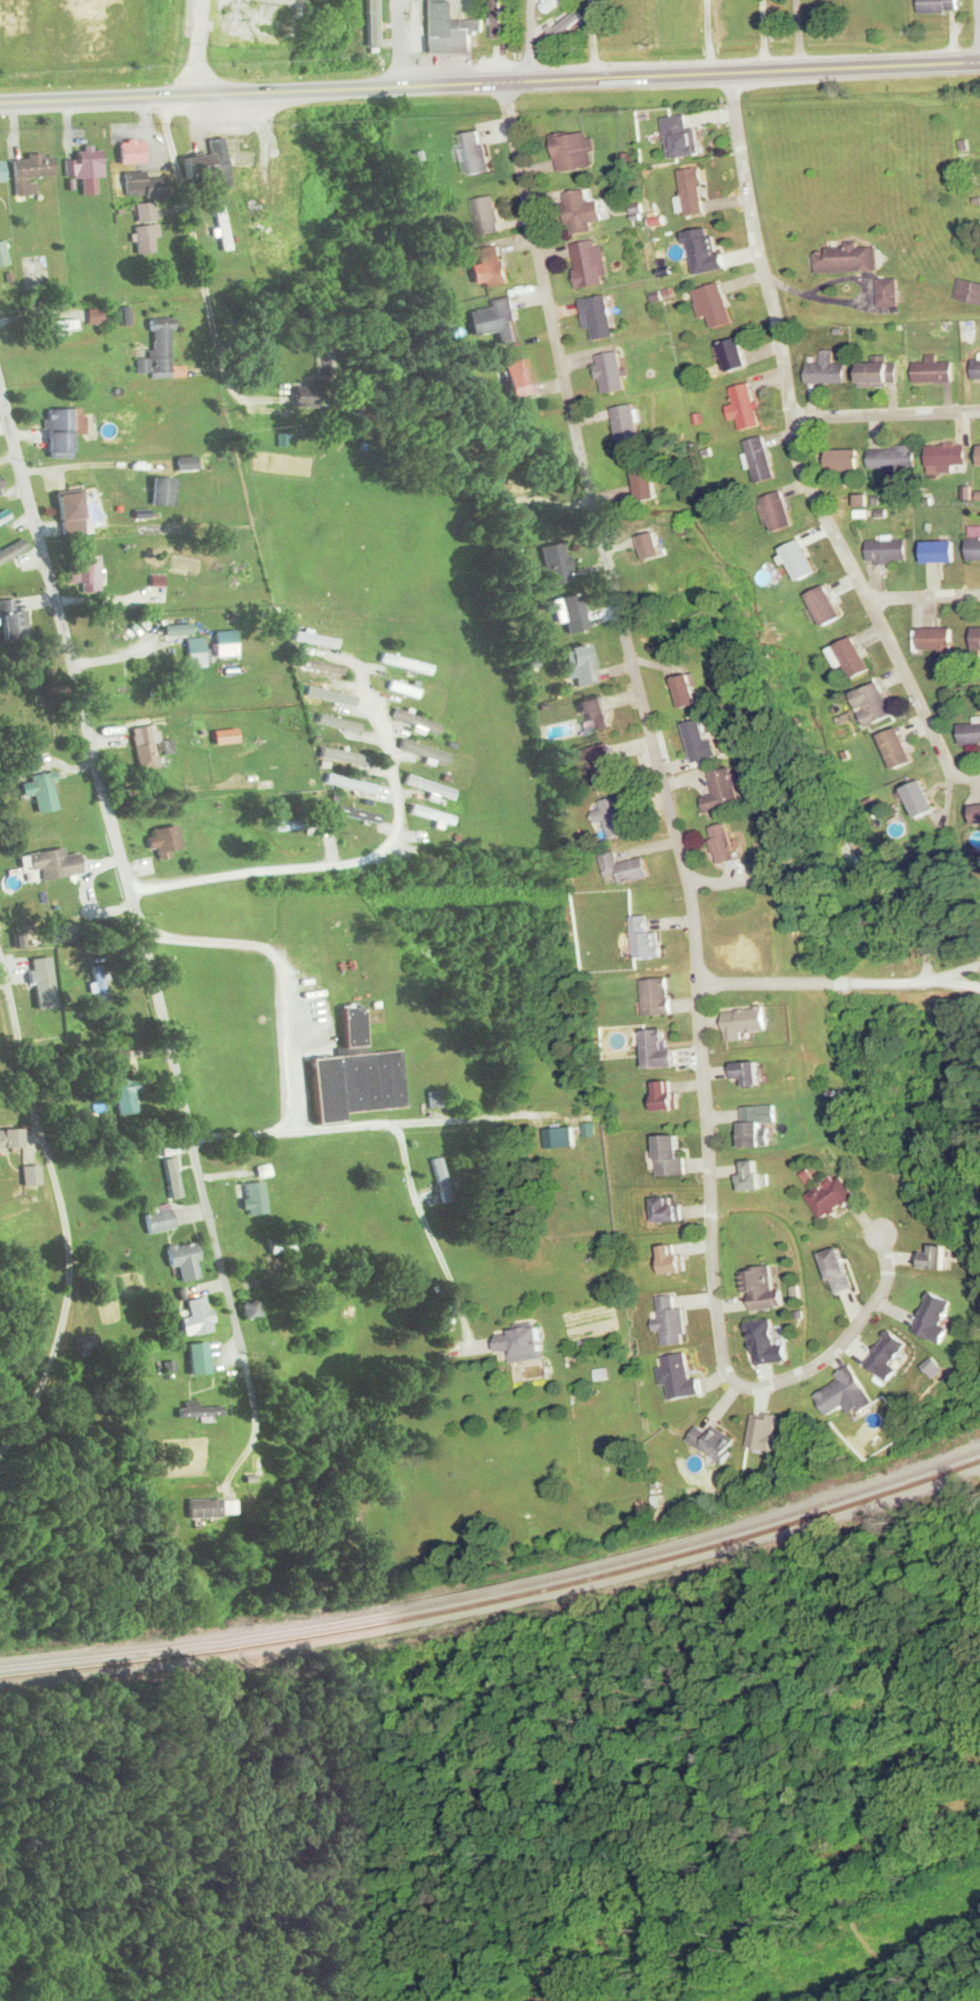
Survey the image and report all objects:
building: (551, 4)
building: (938, 6)
building: (496, 18)
building: (370, 21)
building: (562, 29)
building: (448, 31)
road: (974, 31)
road: (531, 39)
road: (402, 42)
road: (691, 74)
road: (201, 95)
building: (681, 138)
building: (131, 151)
building: (573, 151)
building: (475, 153)
building: (84, 163)
building: (206, 163)
building: (32, 166)
building: (1, 172)
building: (288, 177)
building: (141, 185)
building: (693, 191)
building: (581, 211)
building: (143, 212)
building: (486, 216)
building: (251, 217)
building: (220, 228)
road: (193, 234)
building: (145, 238)
building: (703, 249)
building: (3, 254)
building: (847, 259)
building: (588, 264)
building: (492, 266)
building: (968, 291)
building: (888, 293)
building: (714, 306)
building: (597, 318)
building: (497, 320)
building: (53, 325)
road: (47, 332)
building: (158, 351)
building: (734, 356)
building: (826, 370)
building: (933, 370)
building: (976, 370)
building: (611, 373)
building: (879, 374)
building: (518, 376)
building: (304, 395)
building: (745, 407)
road: (886, 413)
building: (627, 426)
building: (61, 431)
road: (798, 451)
building: (979, 454)
building: (946, 455)
building: (893, 457)
building: (761, 459)
building: (844, 460)
building: (189, 463)
building: (492, 464)
building: (645, 481)
building: (1, 485)
building: (162, 491)
building: (780, 511)
building: (70, 514)
building: (5, 515)
building: (651, 545)
building: (975, 548)
building: (11, 549)
building: (888, 549)
building: (940, 550)
building: (801, 558)
building: (555, 562)
building: (83, 571)
road: (924, 597)
building: (826, 604)
building: (570, 612)
building: (12, 621)
building: (176, 628)
building: (316, 638)
building: (938, 638)
building: (977, 638)
building: (222, 642)
building: (194, 651)
building: (854, 657)
building: (404, 663)
building: (582, 664)
building: (320, 665)
building: (402, 689)
building: (686, 690)
building: (324, 696)
building: (877, 701)
building: (595, 713)
building: (415, 720)
building: (971, 732)
building: (700, 740)
building: (147, 742)
building: (898, 747)
building: (423, 750)
building: (344, 757)
building: (27, 763)
building: (604, 767)
building: (375, 769)
building: (287, 772)
building: (425, 785)
building: (349, 788)
building: (726, 789)
building: (40, 790)
building: (922, 798)
building: (357, 813)
building: (977, 813)
building: (431, 814)
building: (615, 815)
building: (297, 824)
building: (163, 840)
building: (723, 842)
road: (678, 848)
building: (53, 863)
road: (335, 867)
building: (625, 867)
road: (125, 877)
building: (647, 938)
road: (839, 982)
building: (657, 996)
road: (287, 1021)
building: (745, 1022)
building: (661, 1049)
road: (23, 1068)
building: (748, 1072)
building: (356, 1074)
building: (124, 1089)
building: (667, 1096)
building: (436, 1098)
road: (419, 1122)
building: (753, 1128)
building: (560, 1137)
building: (10, 1138)
building: (670, 1156)
building: (29, 1175)
building: (750, 1176)
building: (439, 1180)
building: (833, 1196)
building: (253, 1198)
building: (665, 1210)
building: (157, 1220)
building: (278, 1244)
building: (935, 1257)
building: (183, 1260)
building: (838, 1270)
building: (760, 1287)
building: (195, 1316)
building: (935, 1317)
building: (672, 1321)
building: (765, 1343)
building: (524, 1345)
building: (886, 1355)
building: (197, 1358)
building: (680, 1377)
building: (842, 1391)
building: (196, 1410)
building: (713, 1442)
building: (202, 1507)
building: (228, 1507)
railway: (497, 1589)
railway: (497, 1598)
river: (754, 1878)
river: (156, 1967)

